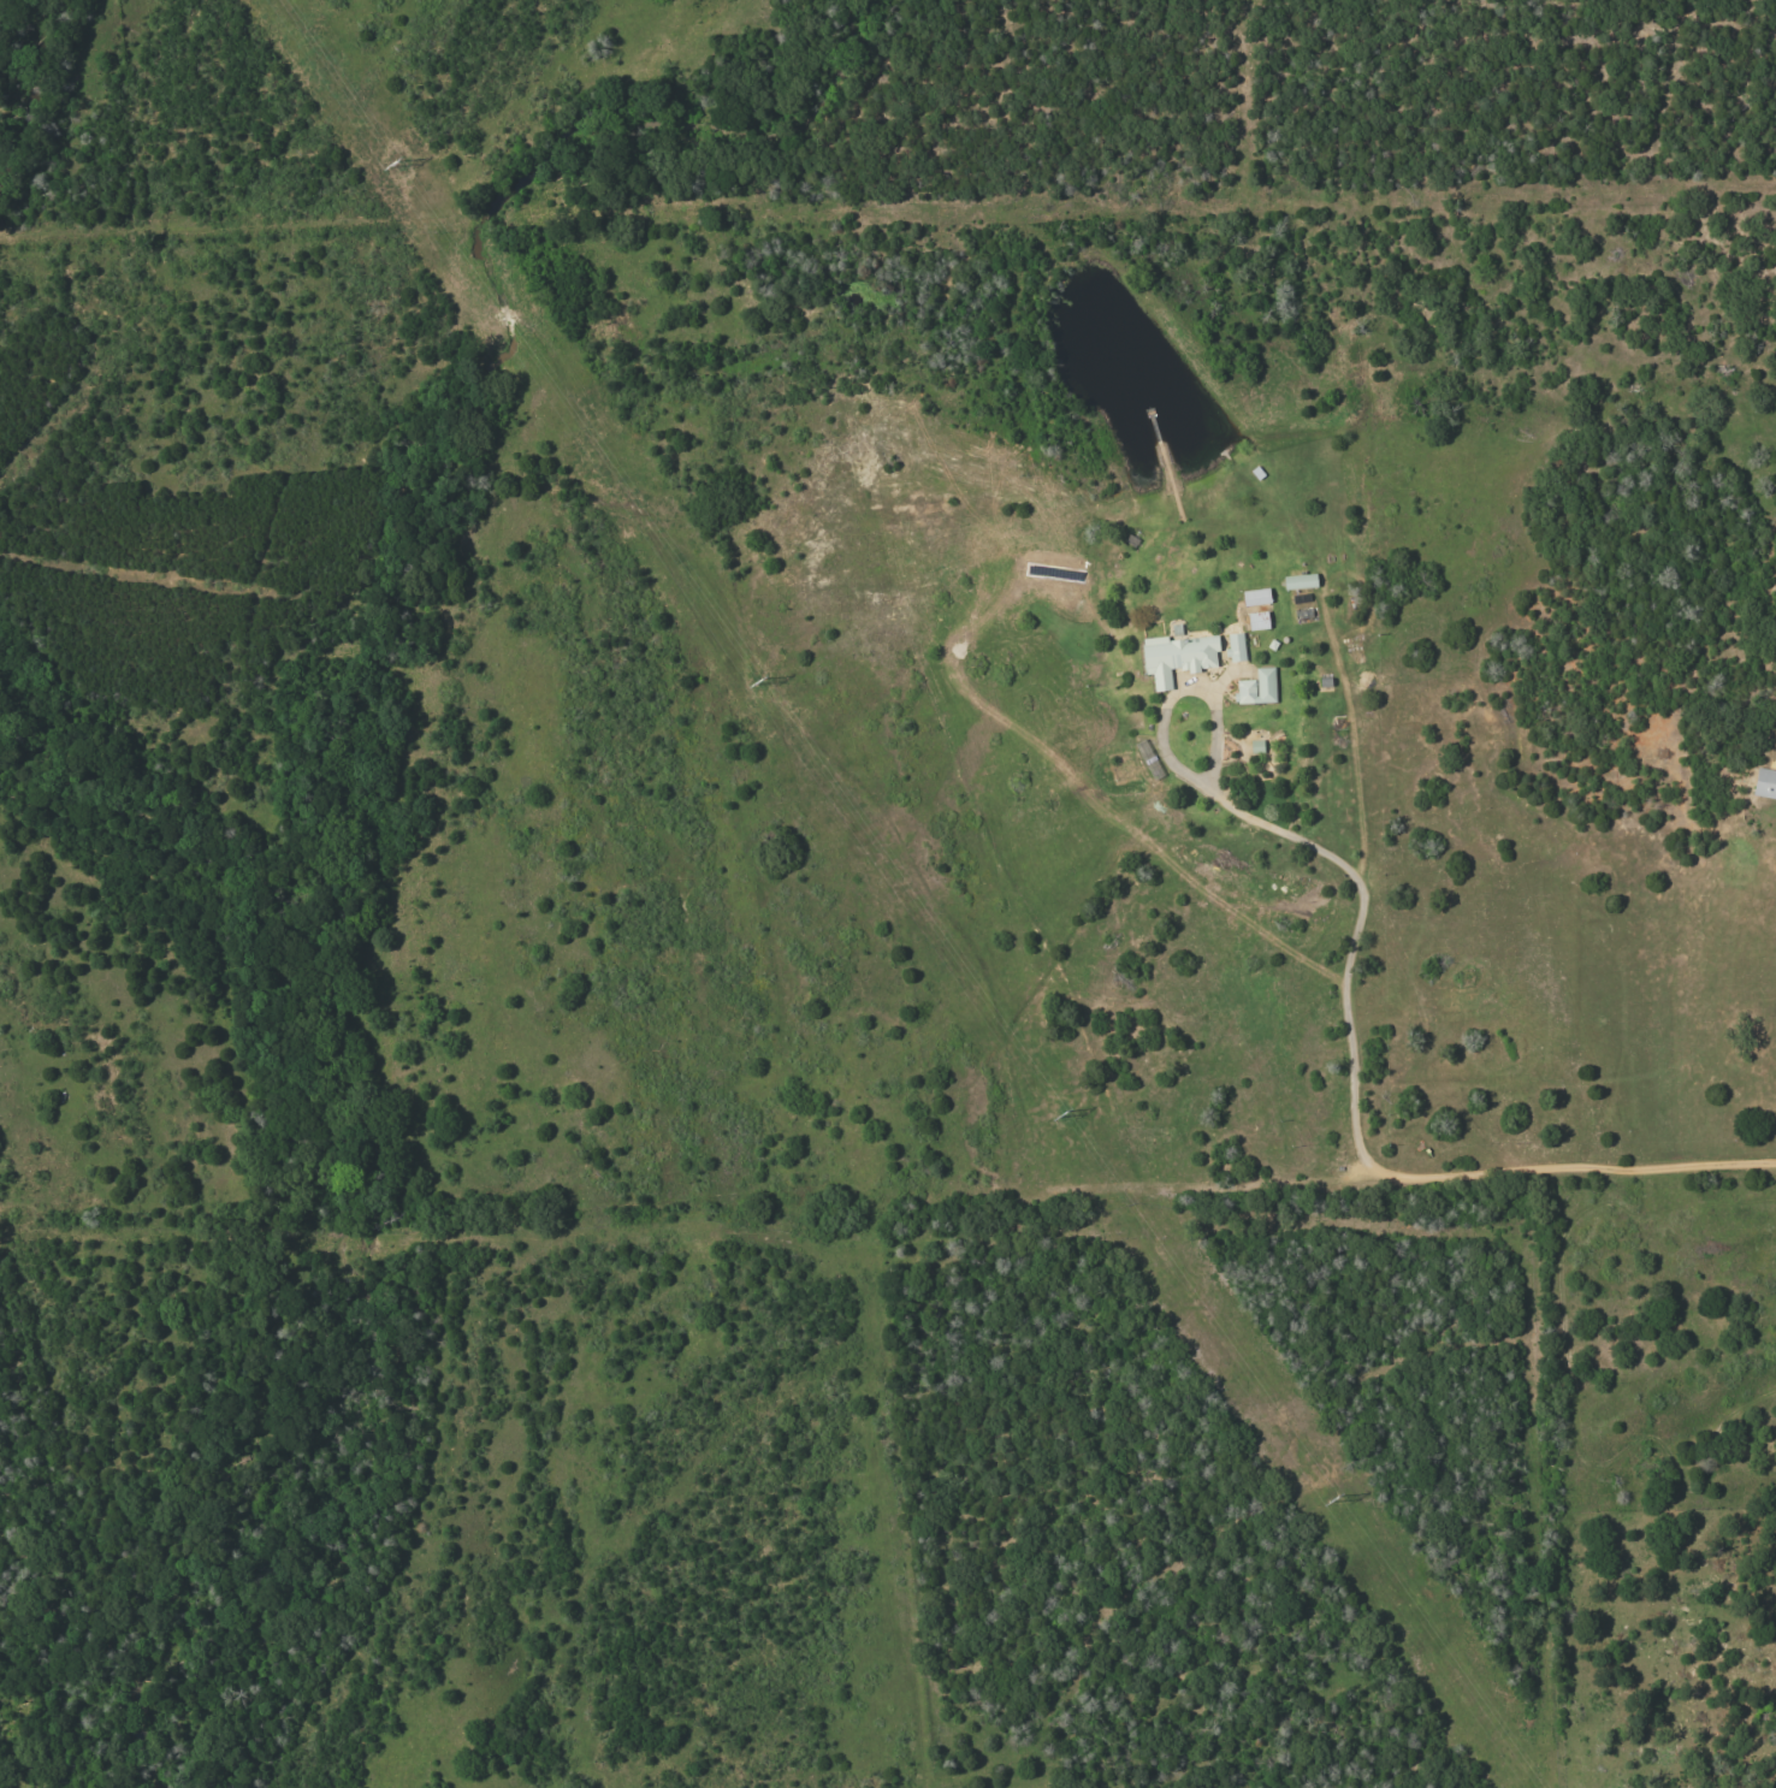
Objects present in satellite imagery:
power tower: (404, 167)
building: (1255, 596)
building: (1256, 620)
building: (1235, 646)
building: (1177, 656)
power tower: (760, 682)
building: (1256, 687)
road: (1180, 769)
building: (1764, 782)
road: (1354, 1091)
power tower: (1071, 1120)
power tower: (1334, 1502)

